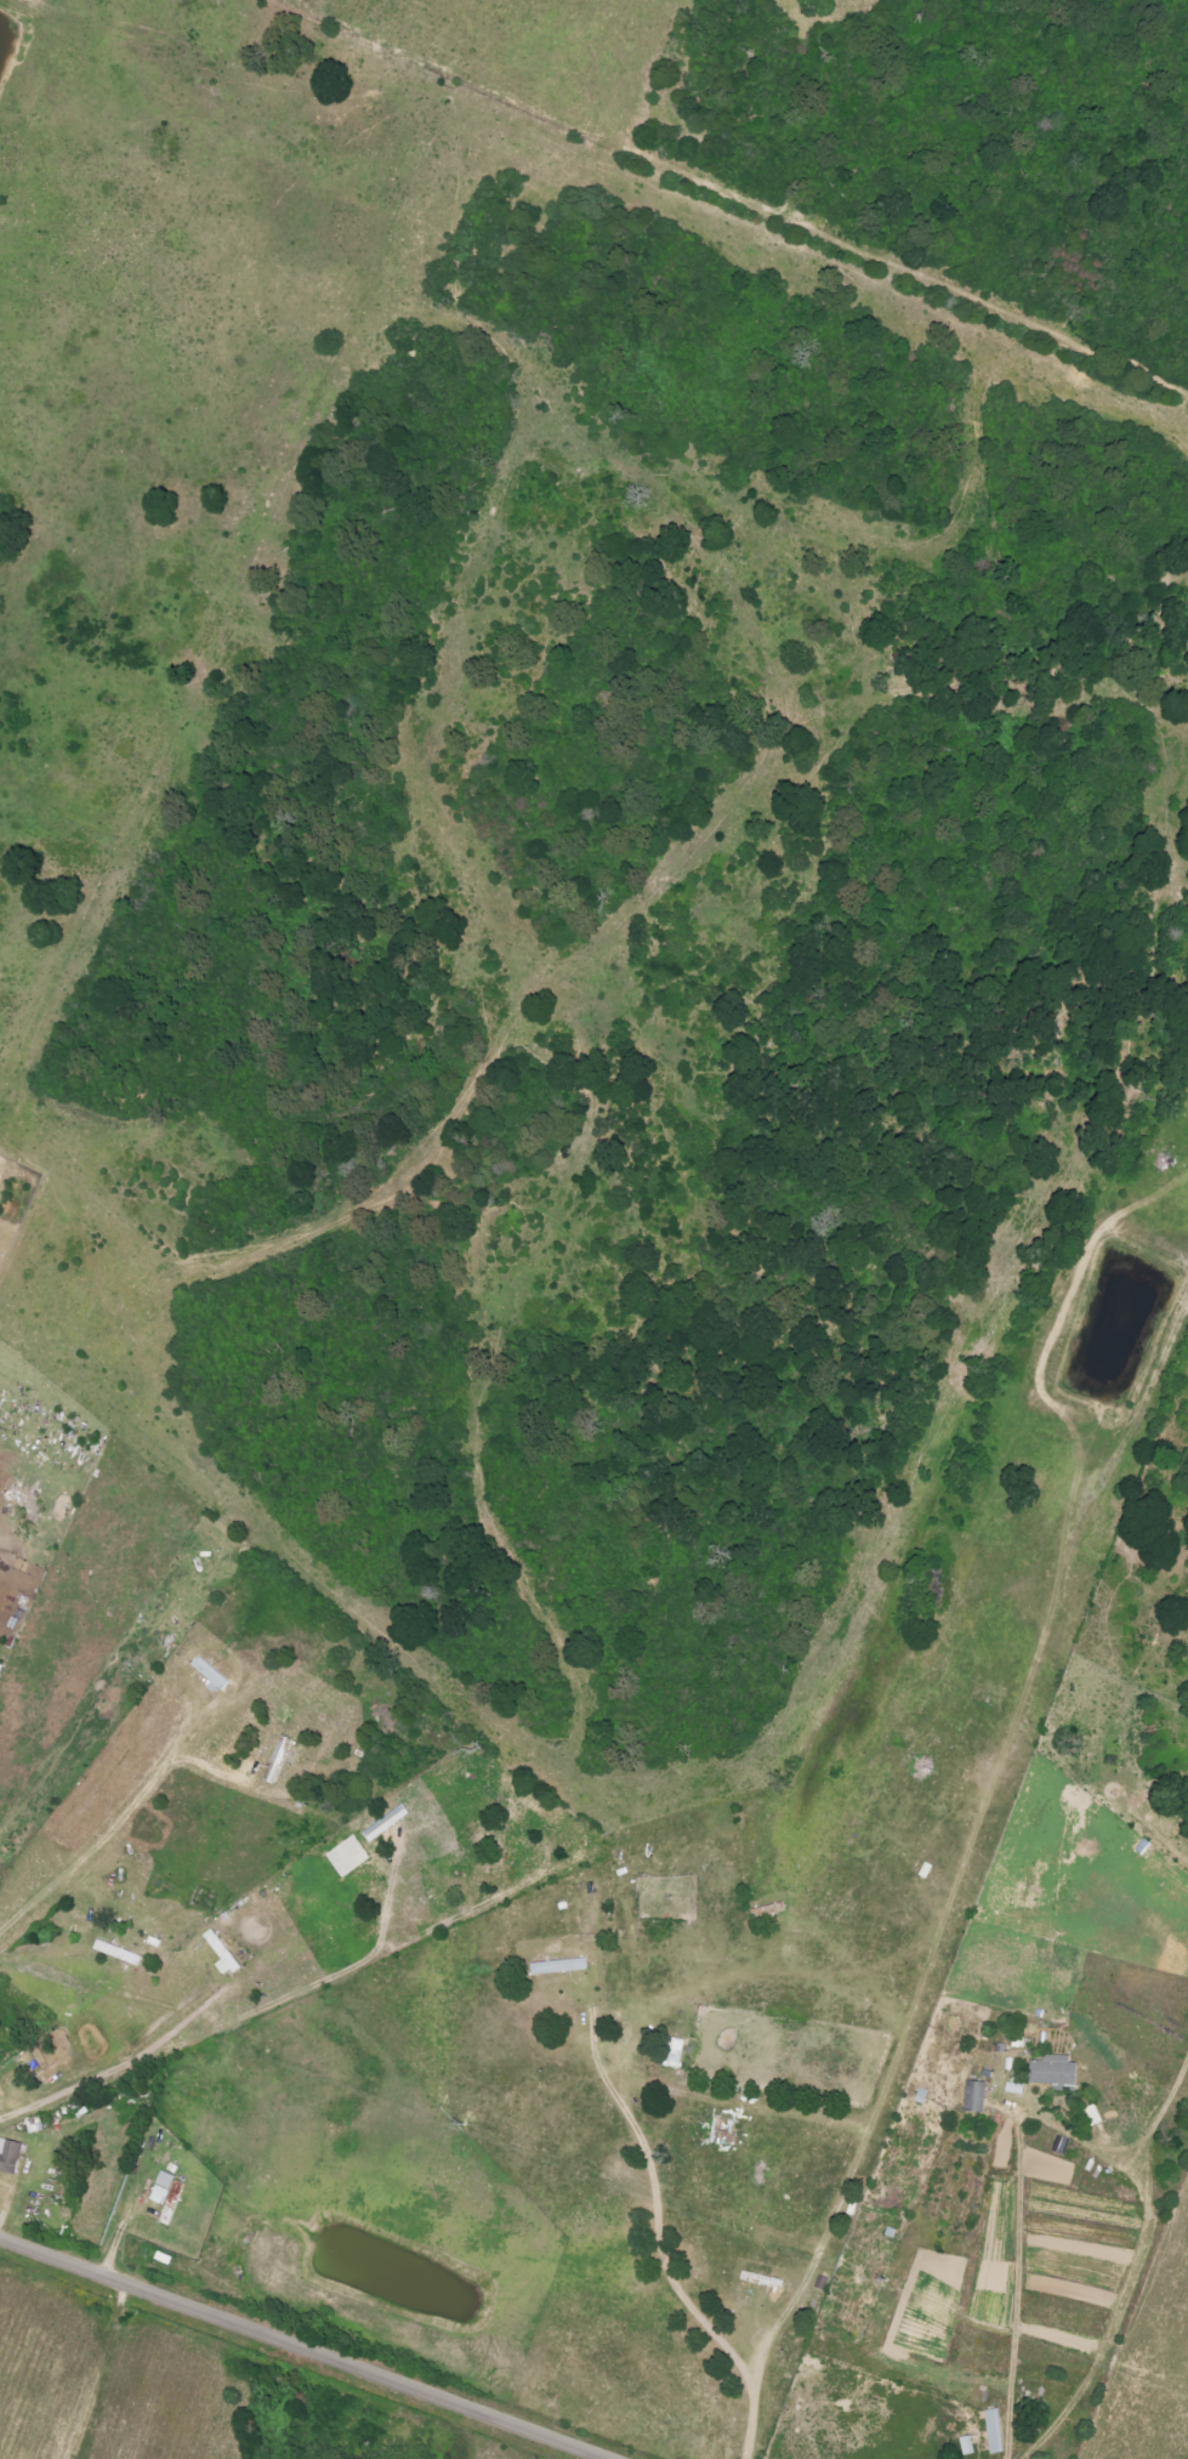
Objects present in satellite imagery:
building: (209, 1674)
building: (386, 1824)
building: (119, 1954)
building: (222, 1955)
building: (558, 1967)
building: (673, 2054)
building: (1053, 2072)
building: (976, 2099)
building: (8, 2157)
building: (169, 2191)
road: (656, 2255)
road: (1019, 2288)
road: (303, 2349)
building: (994, 2432)
building: (966, 2447)

